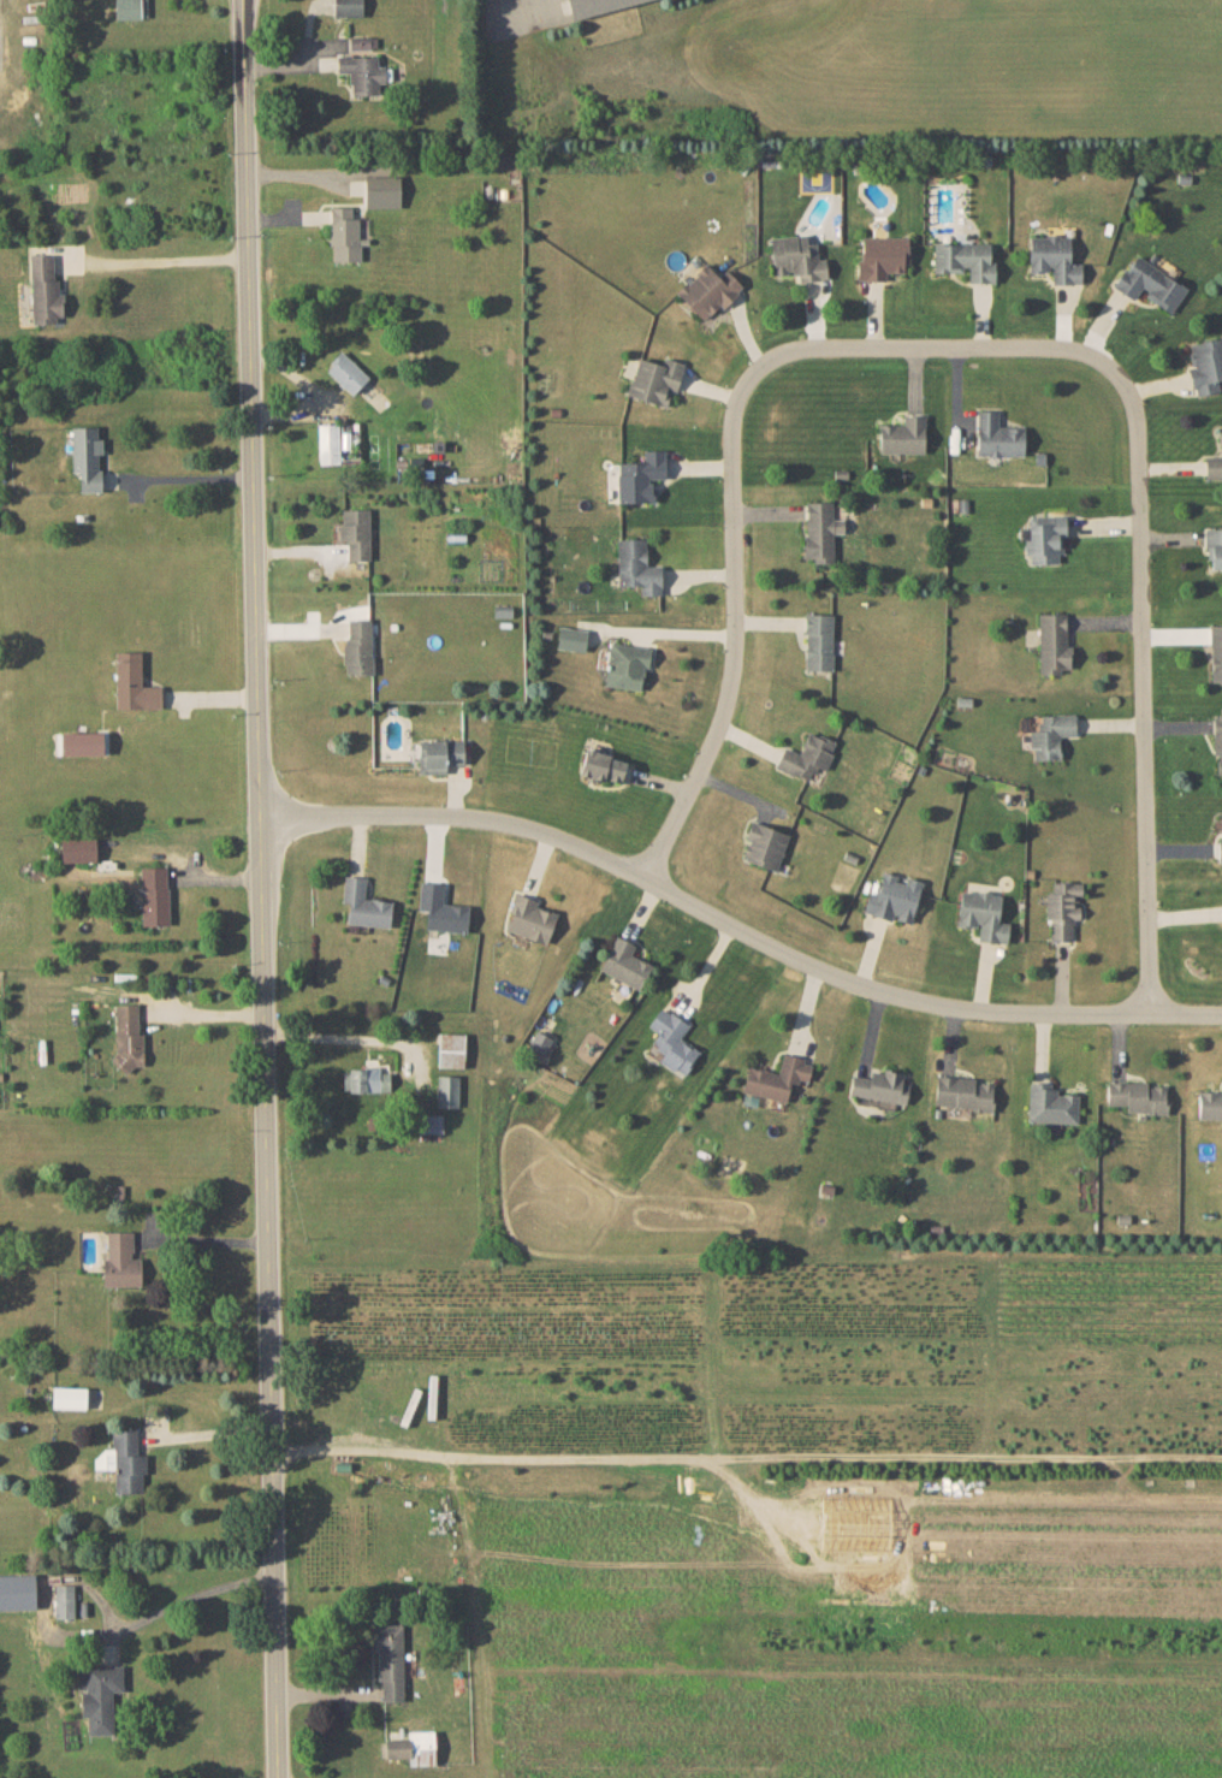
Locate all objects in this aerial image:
building: (594, 5)
building: (348, 7)
building: (131, 8)
building: (362, 72)
building: (381, 191)
building: (344, 235)
building: (882, 256)
building: (797, 257)
building: (1054, 257)
building: (966, 260)
road: (165, 265)
building: (1150, 283)
building: (45, 290)
building: (708, 290)
road: (992, 349)
building: (1205, 365)
building: (346, 372)
building: (656, 379)
building: (903, 435)
building: (998, 435)
building: (328, 443)
building: (87, 456)
building: (1214, 464)
building: (640, 476)
road: (183, 479)
building: (820, 531)
building: (355, 532)
building: (1045, 538)
building: (1214, 547)
building: (637, 567)
building: (571, 638)
building: (819, 641)
building: (1054, 641)
building: (358, 645)
building: (1216, 652)
building: (627, 665)
building: (134, 683)
building: (1051, 735)
building: (1217, 740)
building: (439, 754)
building: (807, 755)
building: (603, 766)
building: (1221, 837)
building: (764, 844)
building: (78, 849)
road: (265, 888)
building: (154, 895)
building: (894, 897)
building: (364, 903)
building: (441, 908)
building: (1062, 909)
building: (983, 915)
building: (532, 919)
road: (737, 932)
building: (624, 962)
building: (127, 1036)
building: (539, 1041)
building: (672, 1041)
building: (776, 1078)
building: (364, 1079)
building: (879, 1085)
building: (447, 1090)
building: (963, 1092)
building: (1138, 1096)
building: (1050, 1103)
building: (1210, 1104)
building: (120, 1261)
building: (69, 1397)
road: (742, 1456)
building: (123, 1460)
building: (17, 1592)
road: (188, 1594)
building: (64, 1600)
building: (390, 1659)
building: (99, 1695)
building: (413, 1747)

